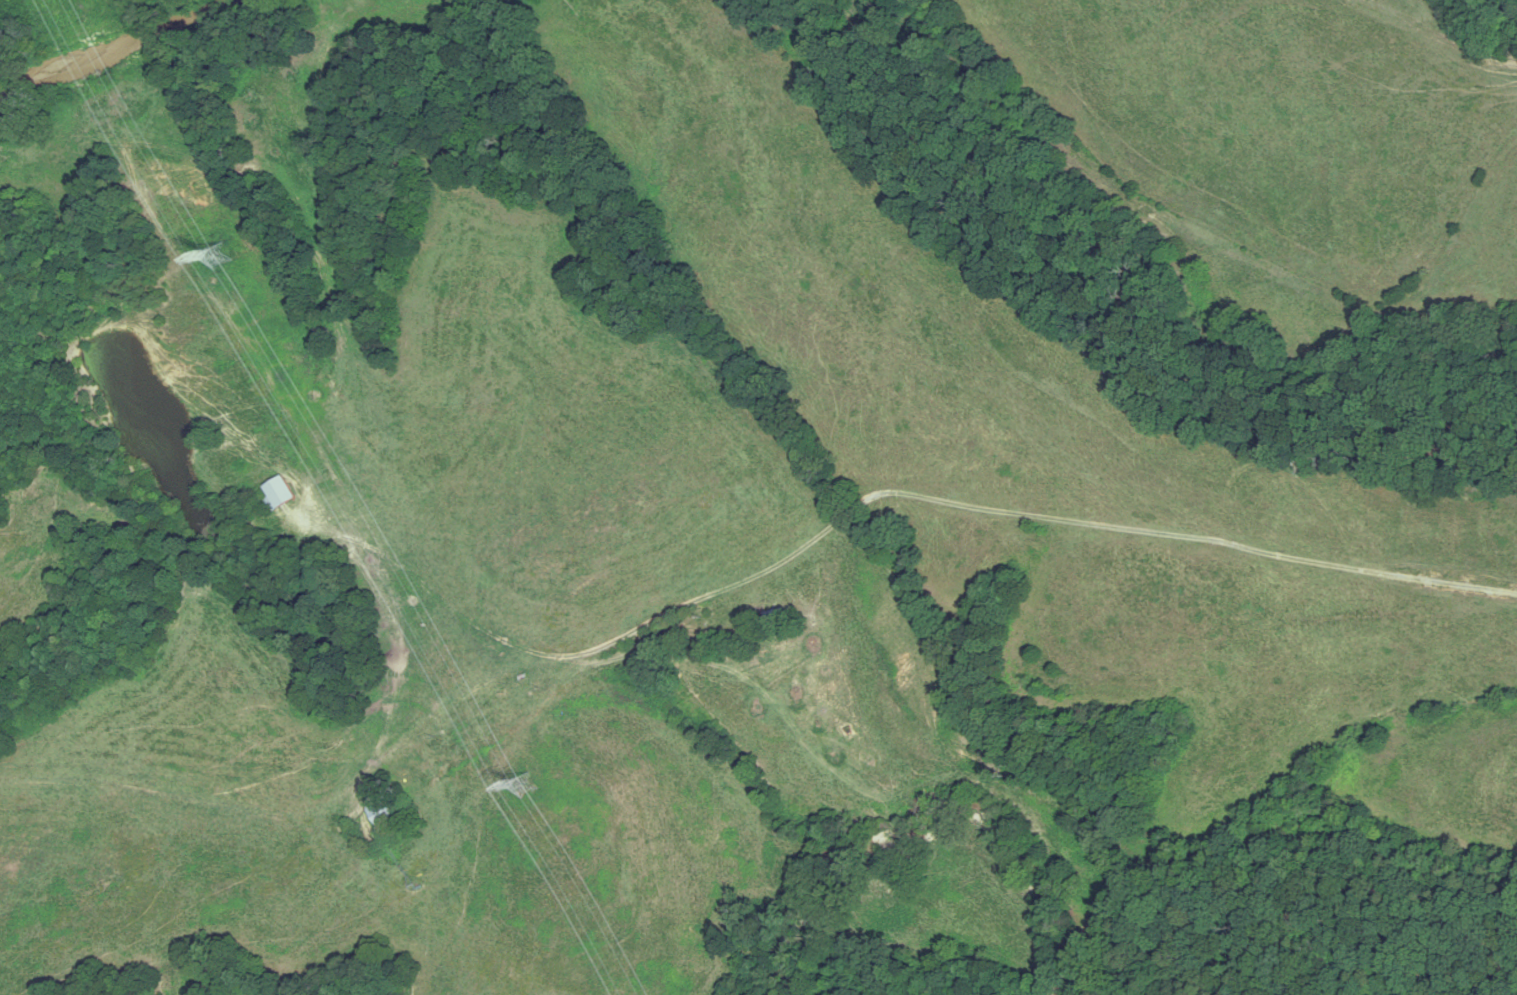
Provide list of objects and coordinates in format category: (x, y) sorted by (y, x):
power tower: (220, 257)
building: (280, 495)
road: (742, 590)
building: (768, 617)
power tower: (528, 790)
building: (382, 813)

